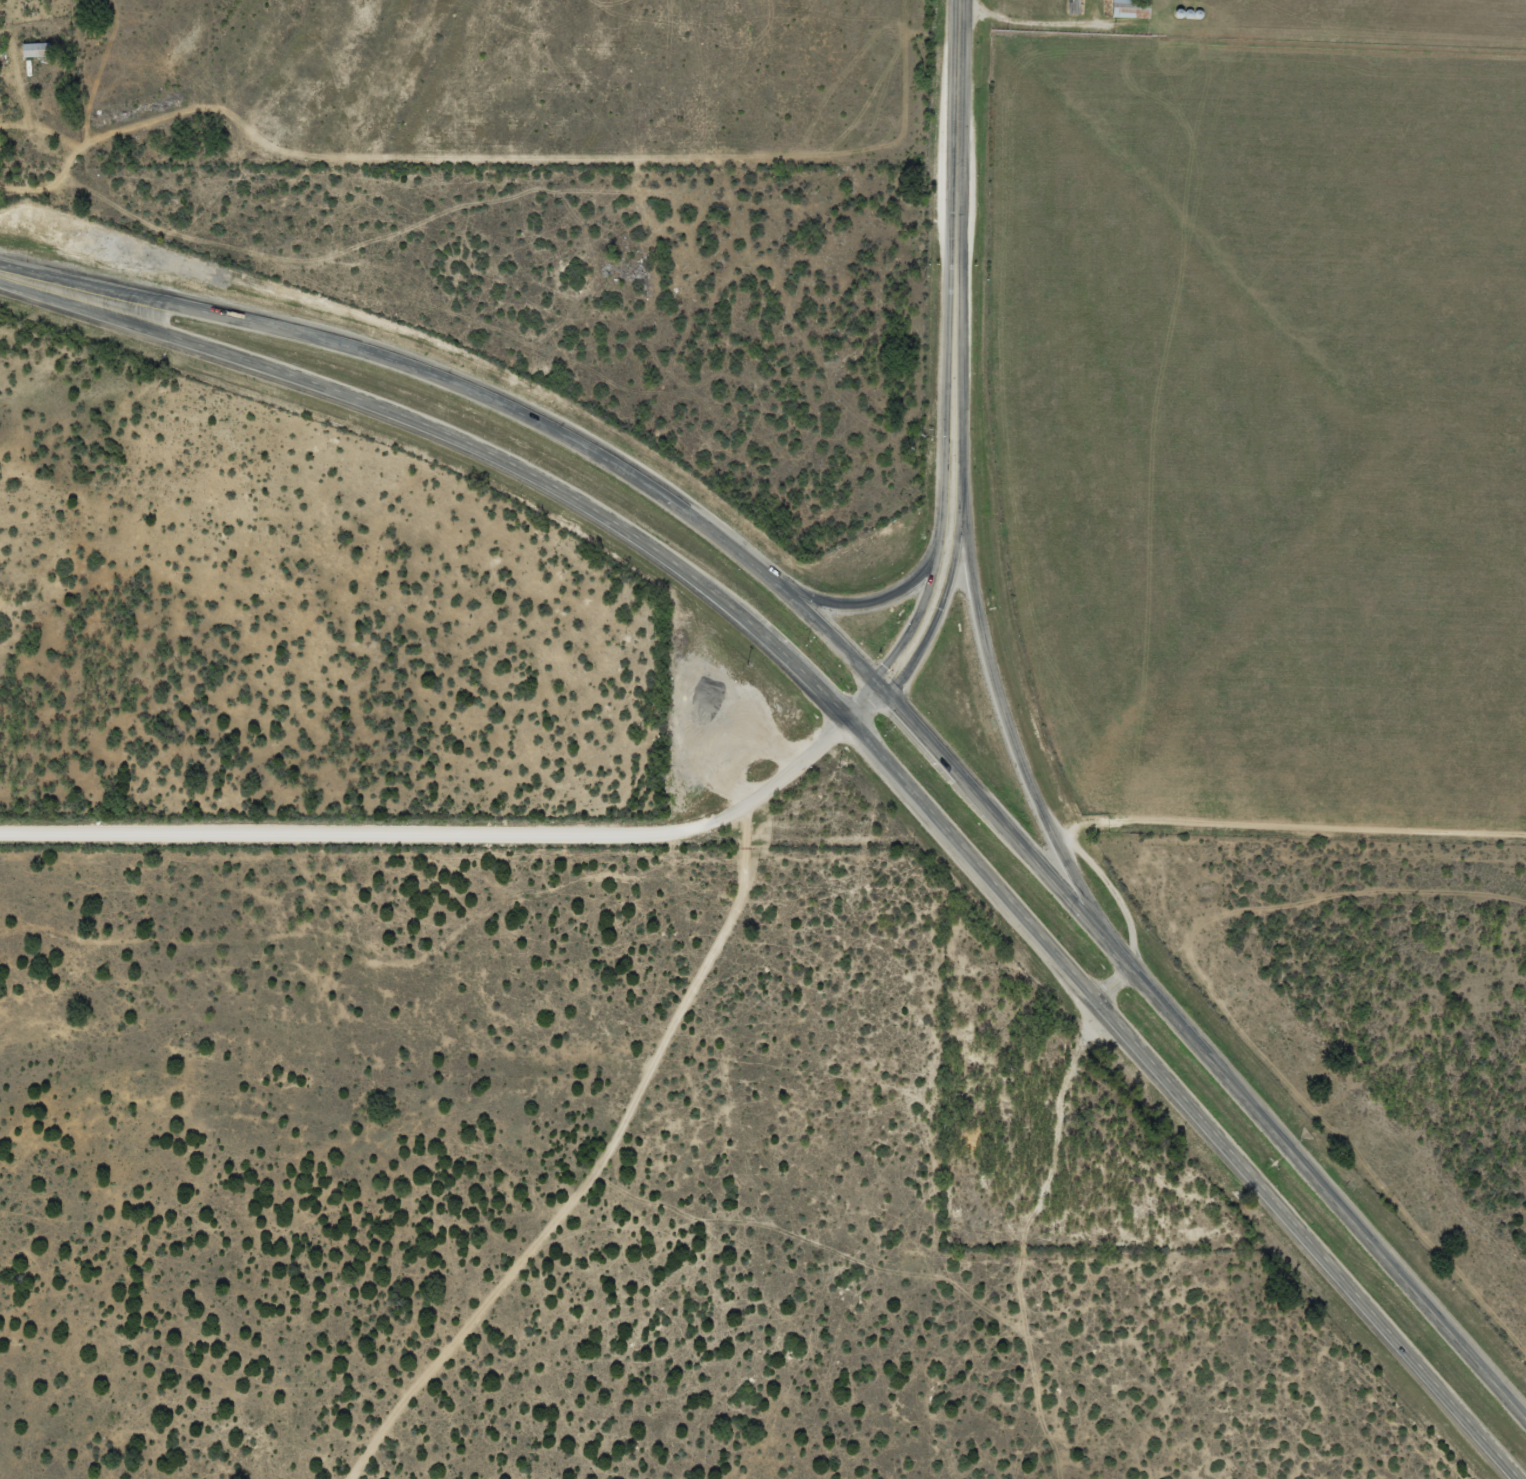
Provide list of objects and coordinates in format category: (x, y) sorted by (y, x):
building: (1121, 9)
building: (27, 50)
road: (956, 253)
road: (138, 297)
road: (98, 315)
road: (603, 466)
road: (892, 592)
road: (932, 602)
road: (863, 703)
road: (1001, 714)
road: (929, 815)
road: (1286, 826)
road: (441, 836)
road: (1113, 892)
road: (1112, 984)
road: (1204, 1052)
road: (589, 1165)

